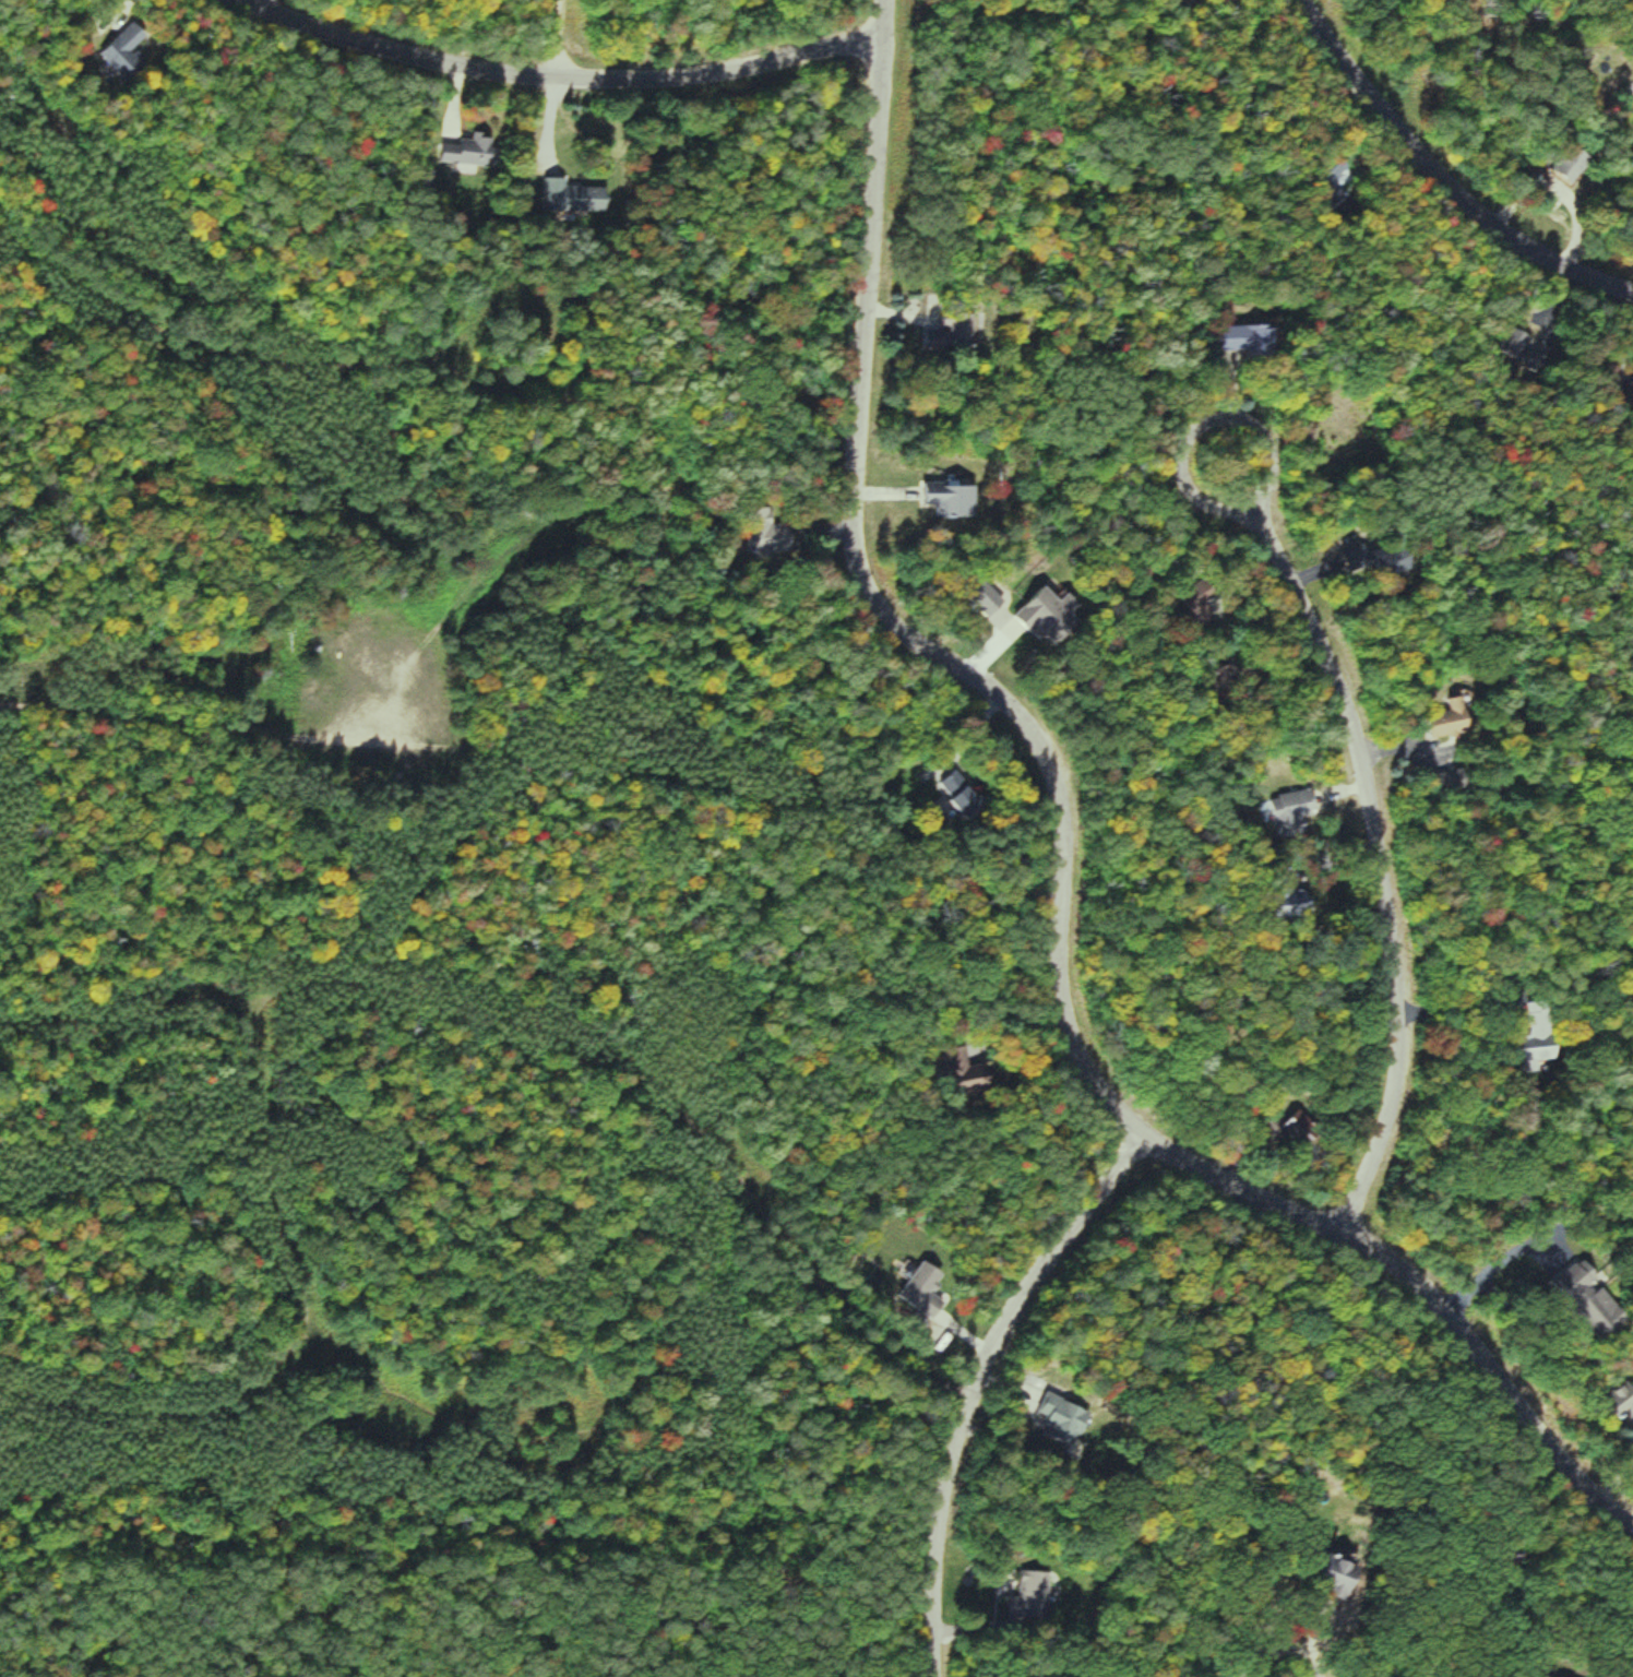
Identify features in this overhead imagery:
road: (556, 41)
building: (129, 53)
road: (552, 83)
building: (472, 152)
road: (1429, 188)
building: (577, 197)
building: (954, 334)
building: (1253, 340)
building: (954, 498)
building: (1367, 556)
building: (1051, 617)
road: (187, 717)
building: (1457, 719)
building: (1456, 782)
building: (968, 795)
building: (1298, 812)
road: (1376, 836)
road: (1059, 864)
building: (1303, 902)
building: (1546, 1049)
building: (974, 1071)
building: (931, 1289)
building: (1586, 1296)
road: (974, 1380)
building: (1624, 1403)
building: (1068, 1420)
building: (1035, 1597)
road: (1278, 1650)

